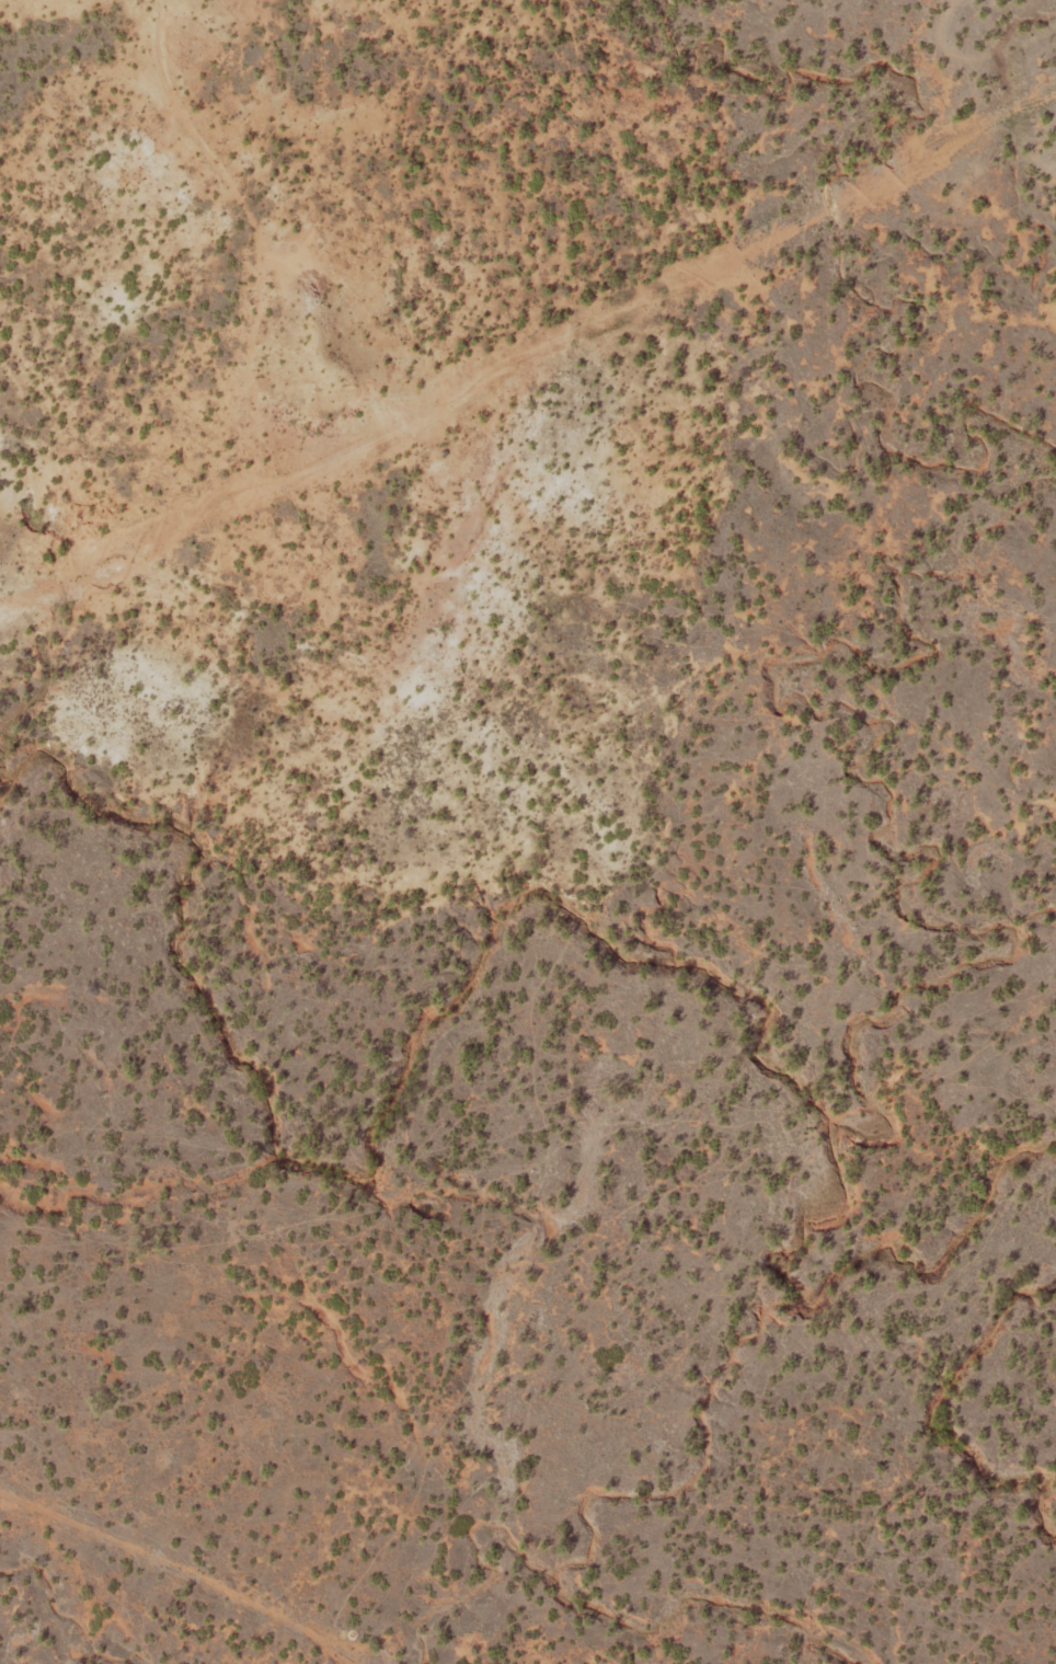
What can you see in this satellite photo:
road: (509, 320)
road: (240, 358)
road: (225, 434)
road: (186, 1571)

